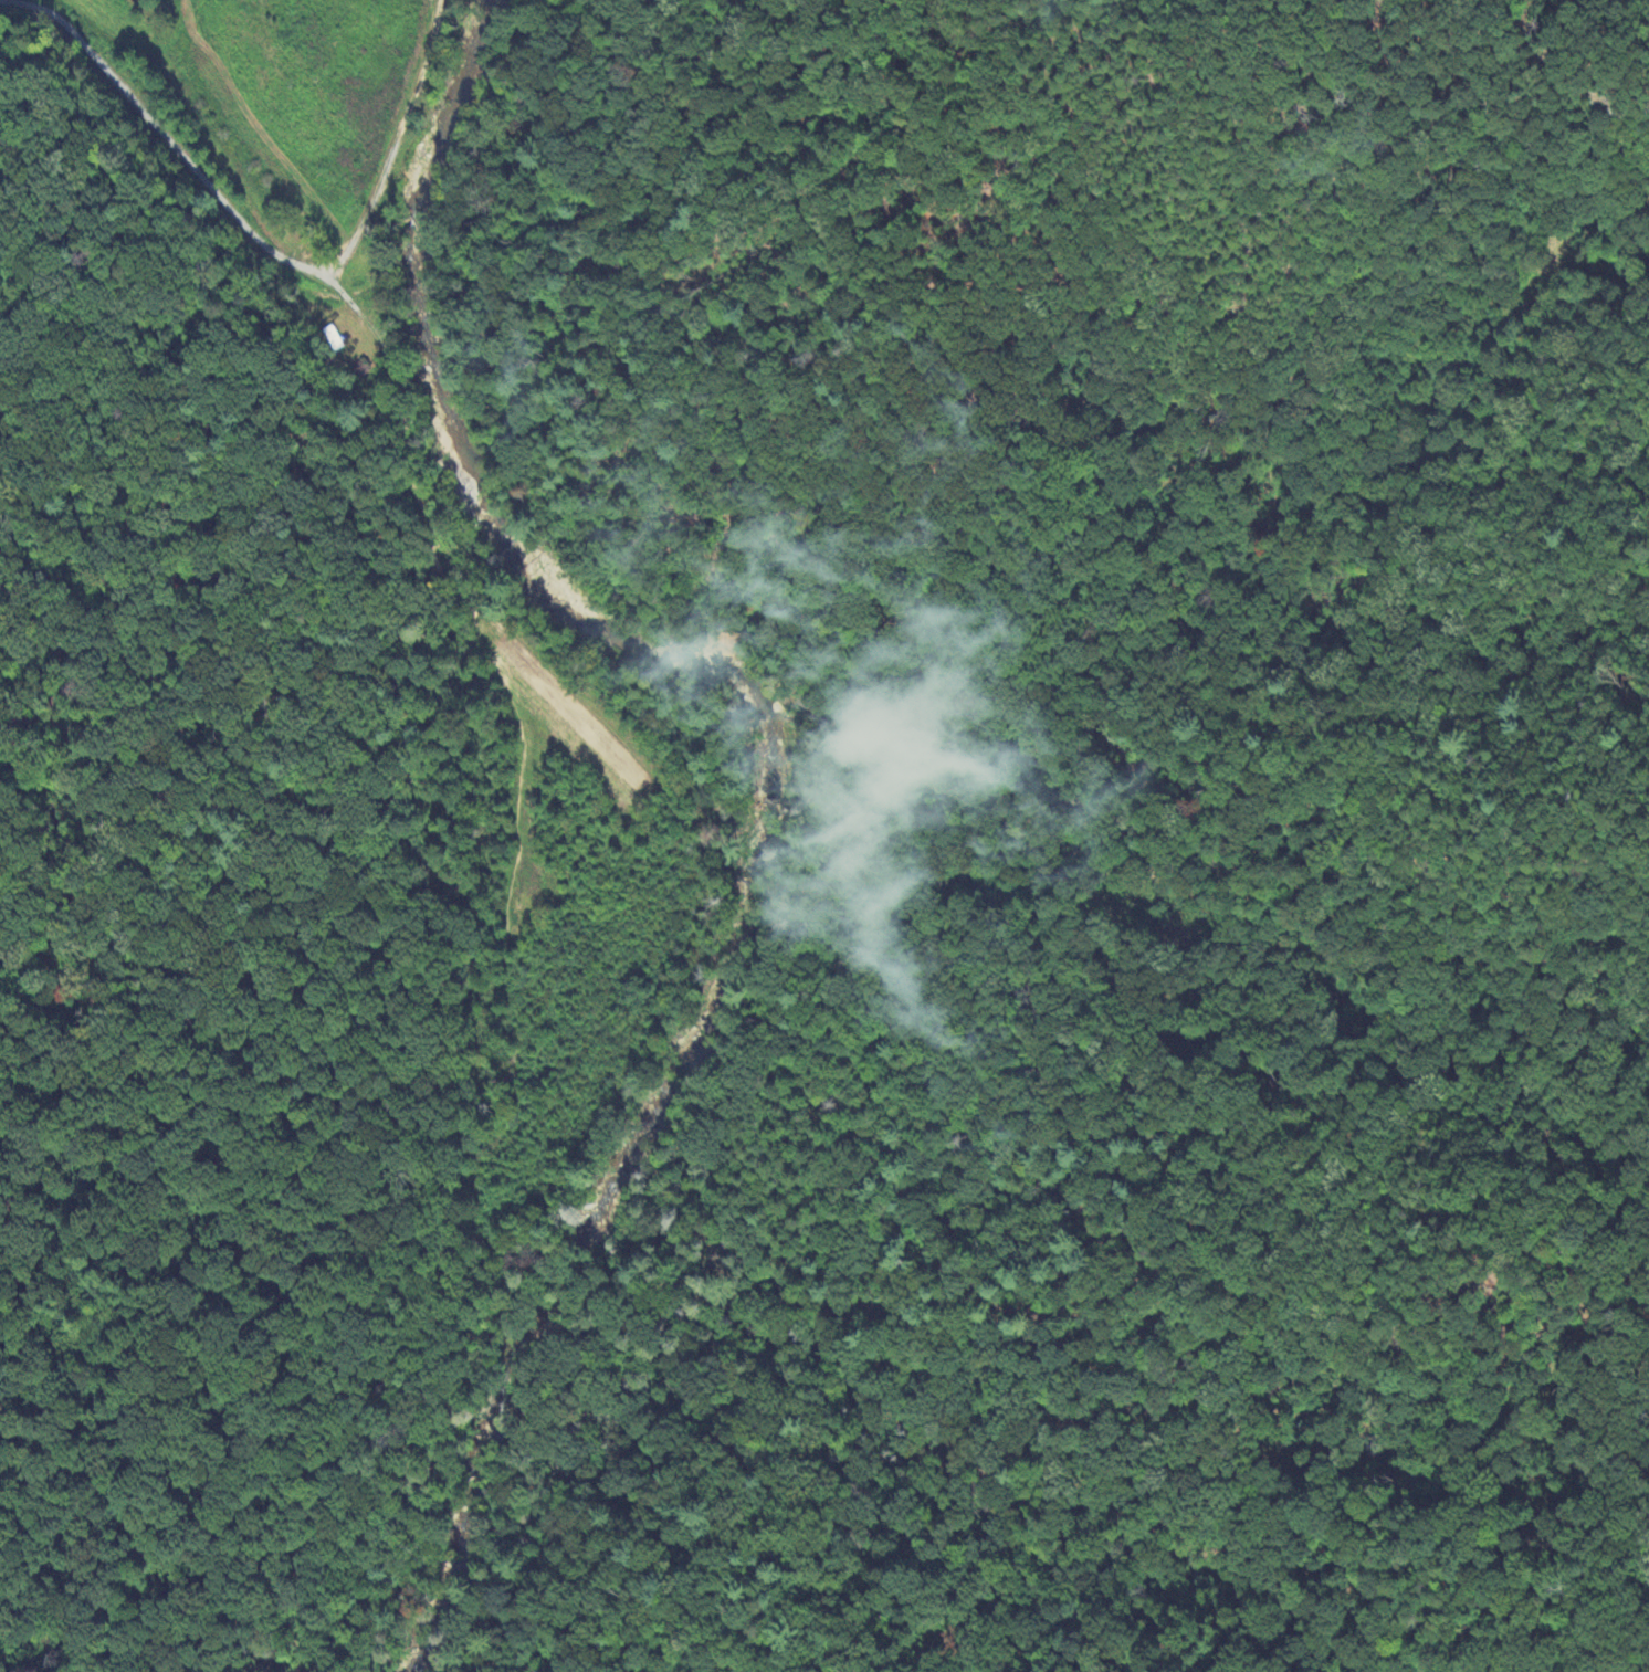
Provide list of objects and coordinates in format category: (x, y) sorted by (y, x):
road: (160, 137)
road: (396, 144)
road: (358, 308)
building: (333, 337)
building: (356, 362)
road: (495, 1016)

